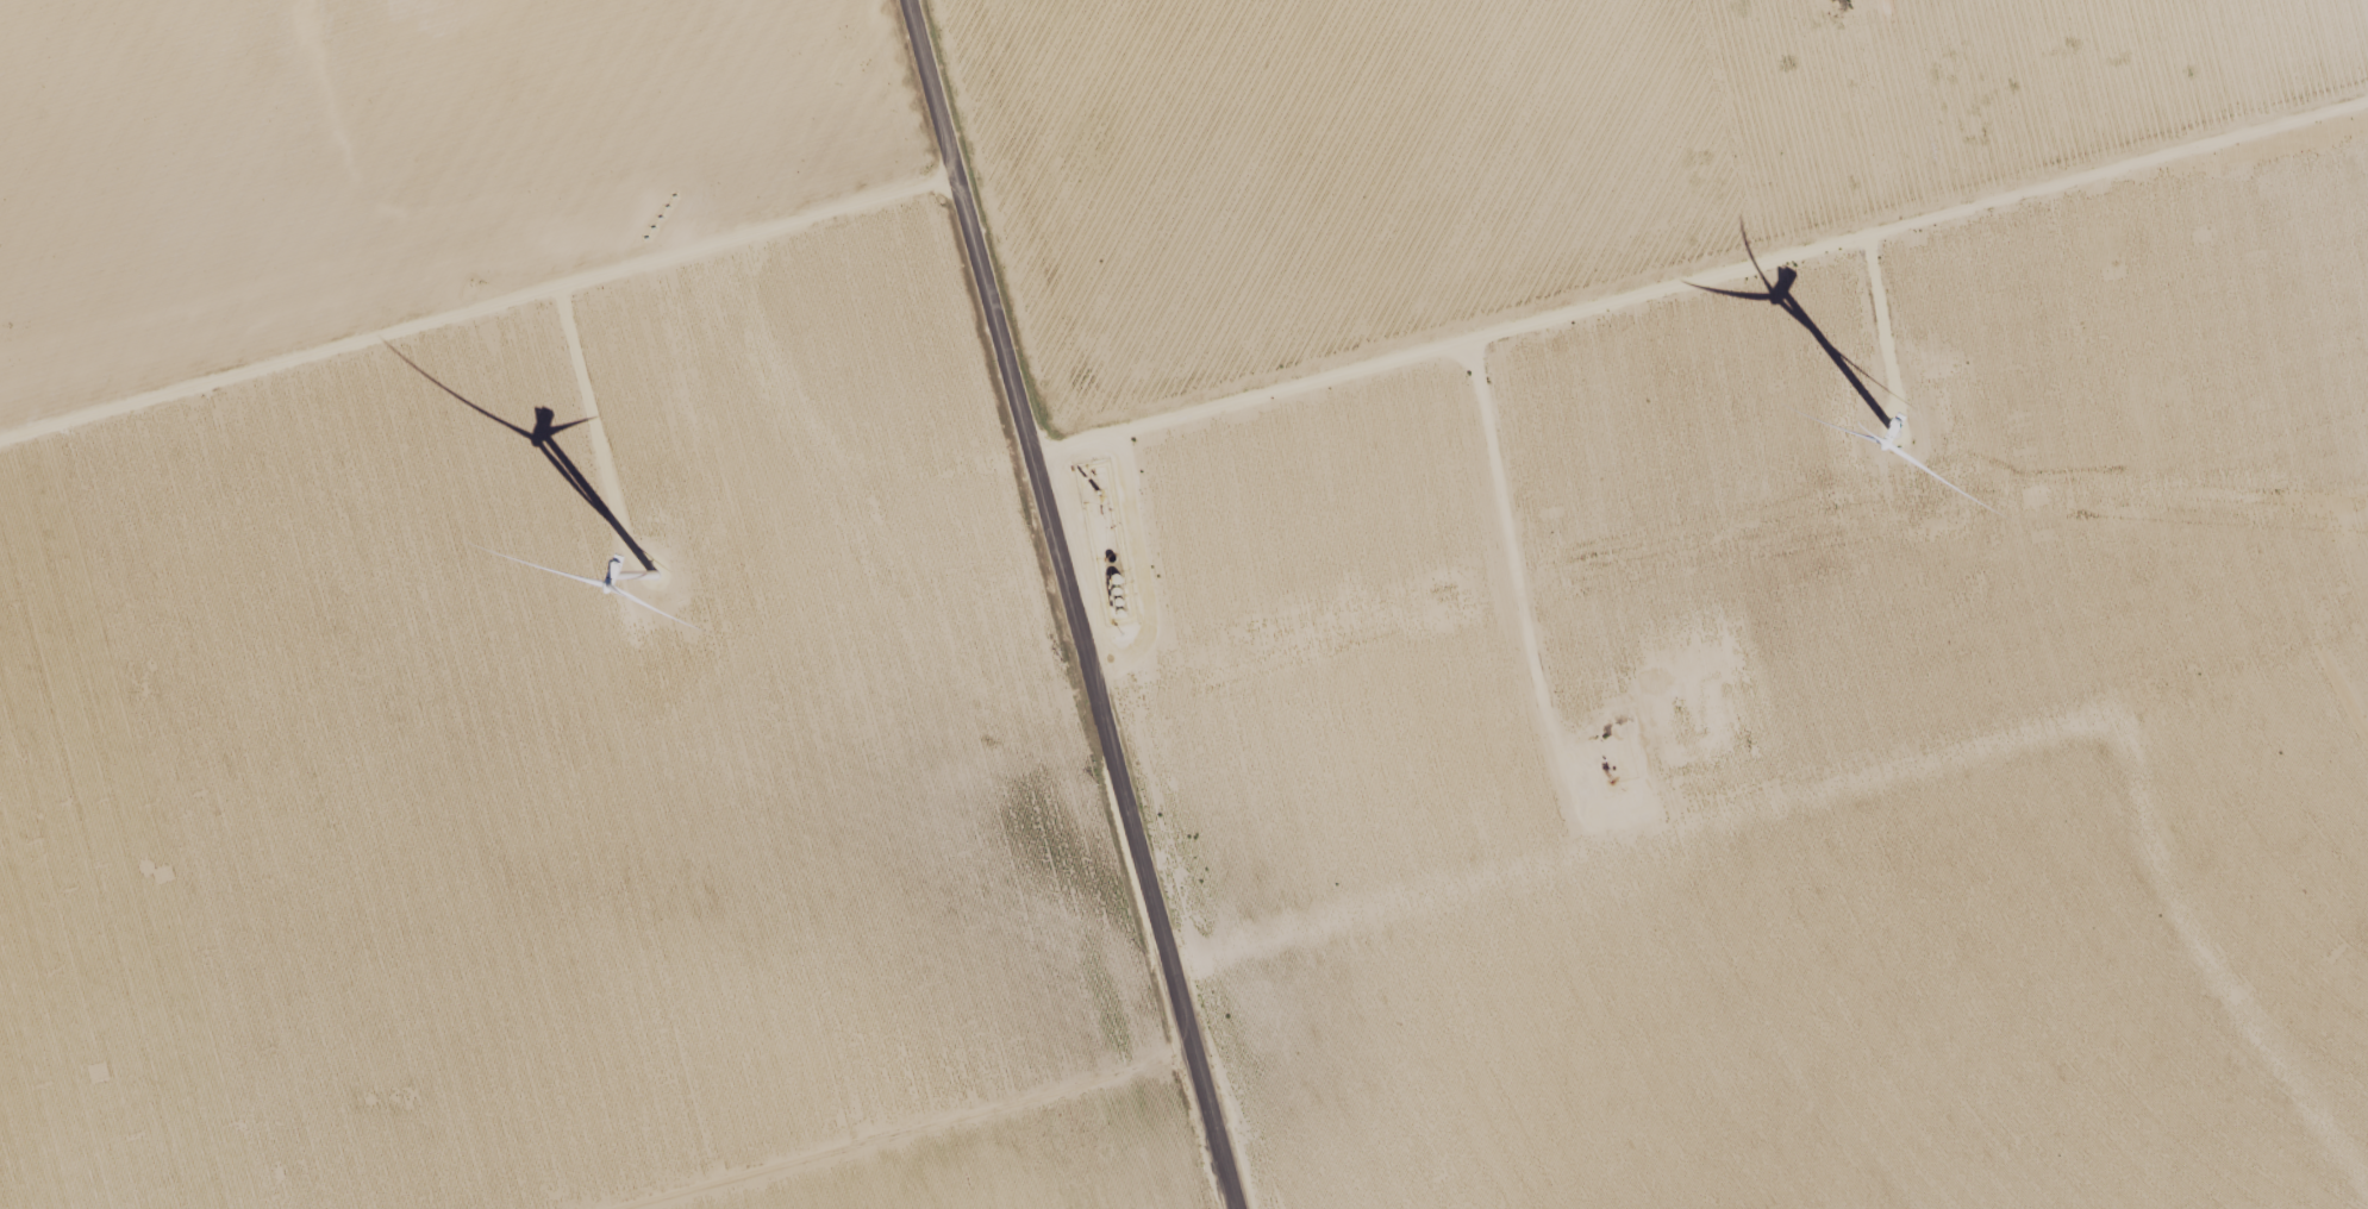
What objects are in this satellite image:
wind turbine: (1880, 432)
wind turbine: (648, 584)
road: (1075, 603)
road: (1893, 816)

